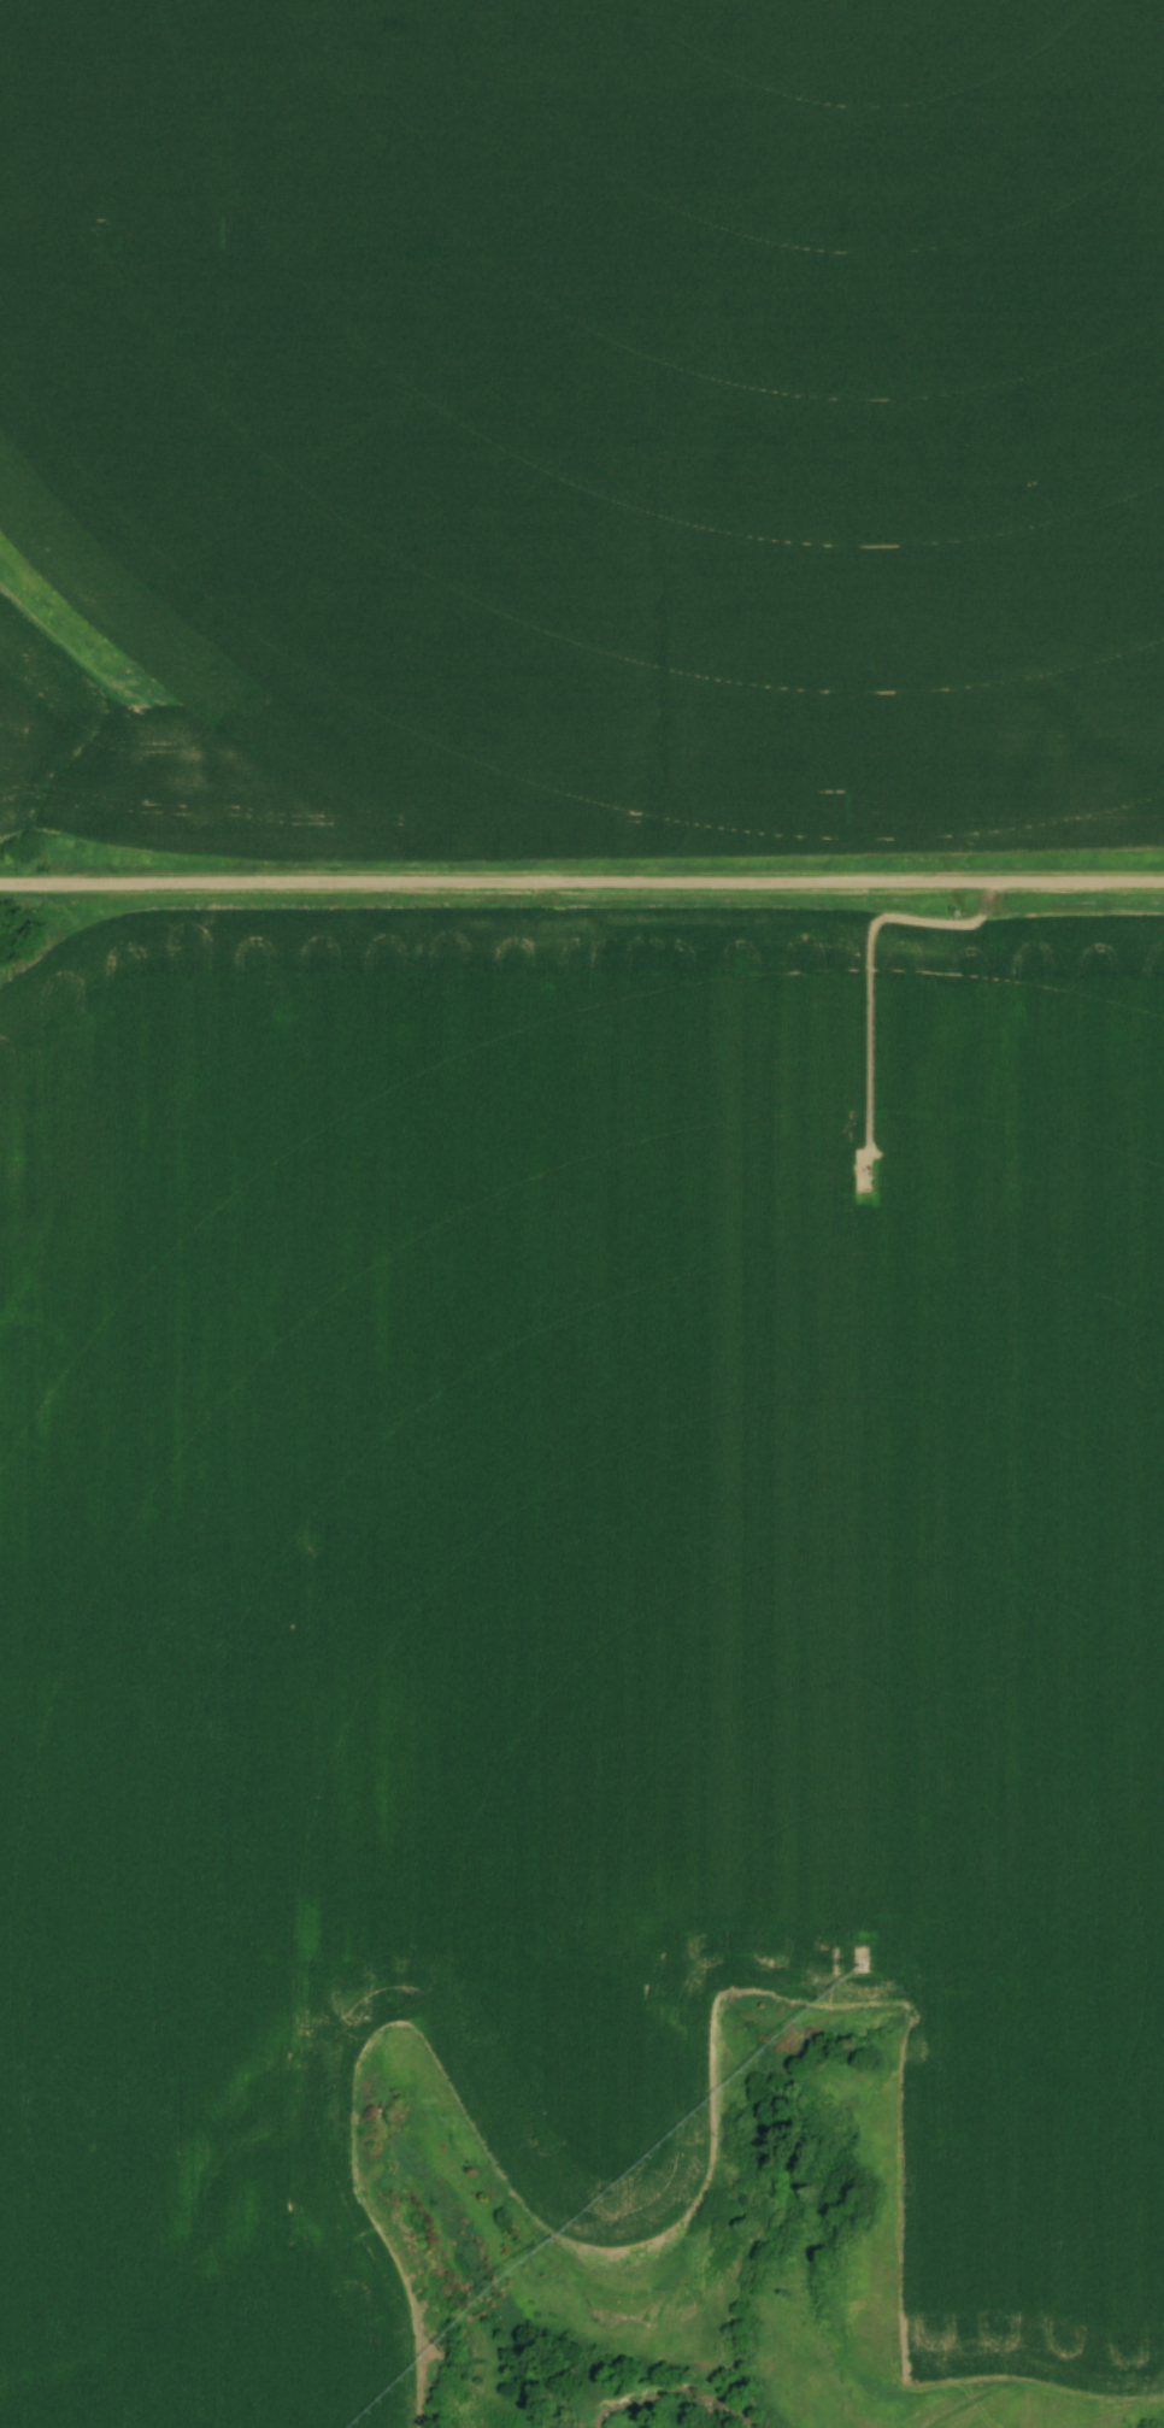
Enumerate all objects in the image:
road: (582, 868)

